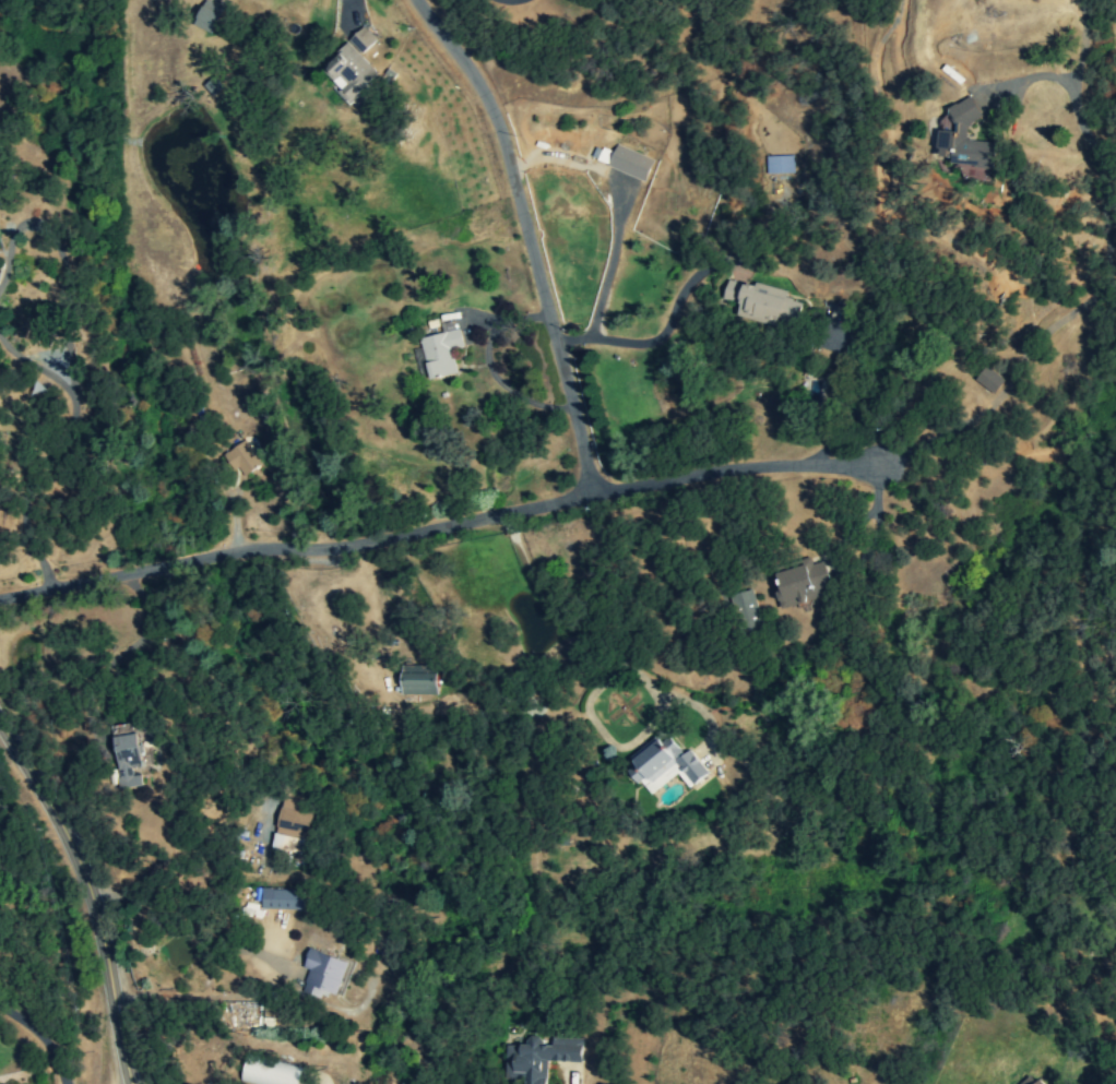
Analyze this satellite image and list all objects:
building: (207, 16)
building: (361, 40)
building: (349, 72)
building: (962, 140)
building: (630, 163)
building: (780, 164)
road: (620, 202)
road: (526, 235)
road: (59, 265)
road: (1096, 291)
building: (762, 302)
road: (656, 335)
building: (440, 353)
road: (488, 366)
road: (33, 369)
building: (989, 380)
road: (852, 407)
building: (242, 458)
road: (23, 486)
road: (439, 526)
road: (834, 547)
building: (802, 583)
building: (747, 612)
building: (418, 683)
road: (452, 734)
building: (129, 760)
building: (665, 765)
building: (293, 825)
road: (302, 838)
road: (92, 895)
building: (282, 898)
road: (169, 909)
road: (199, 950)
building: (323, 973)
road: (39, 1038)
building: (539, 1058)
building: (1031, 1081)

